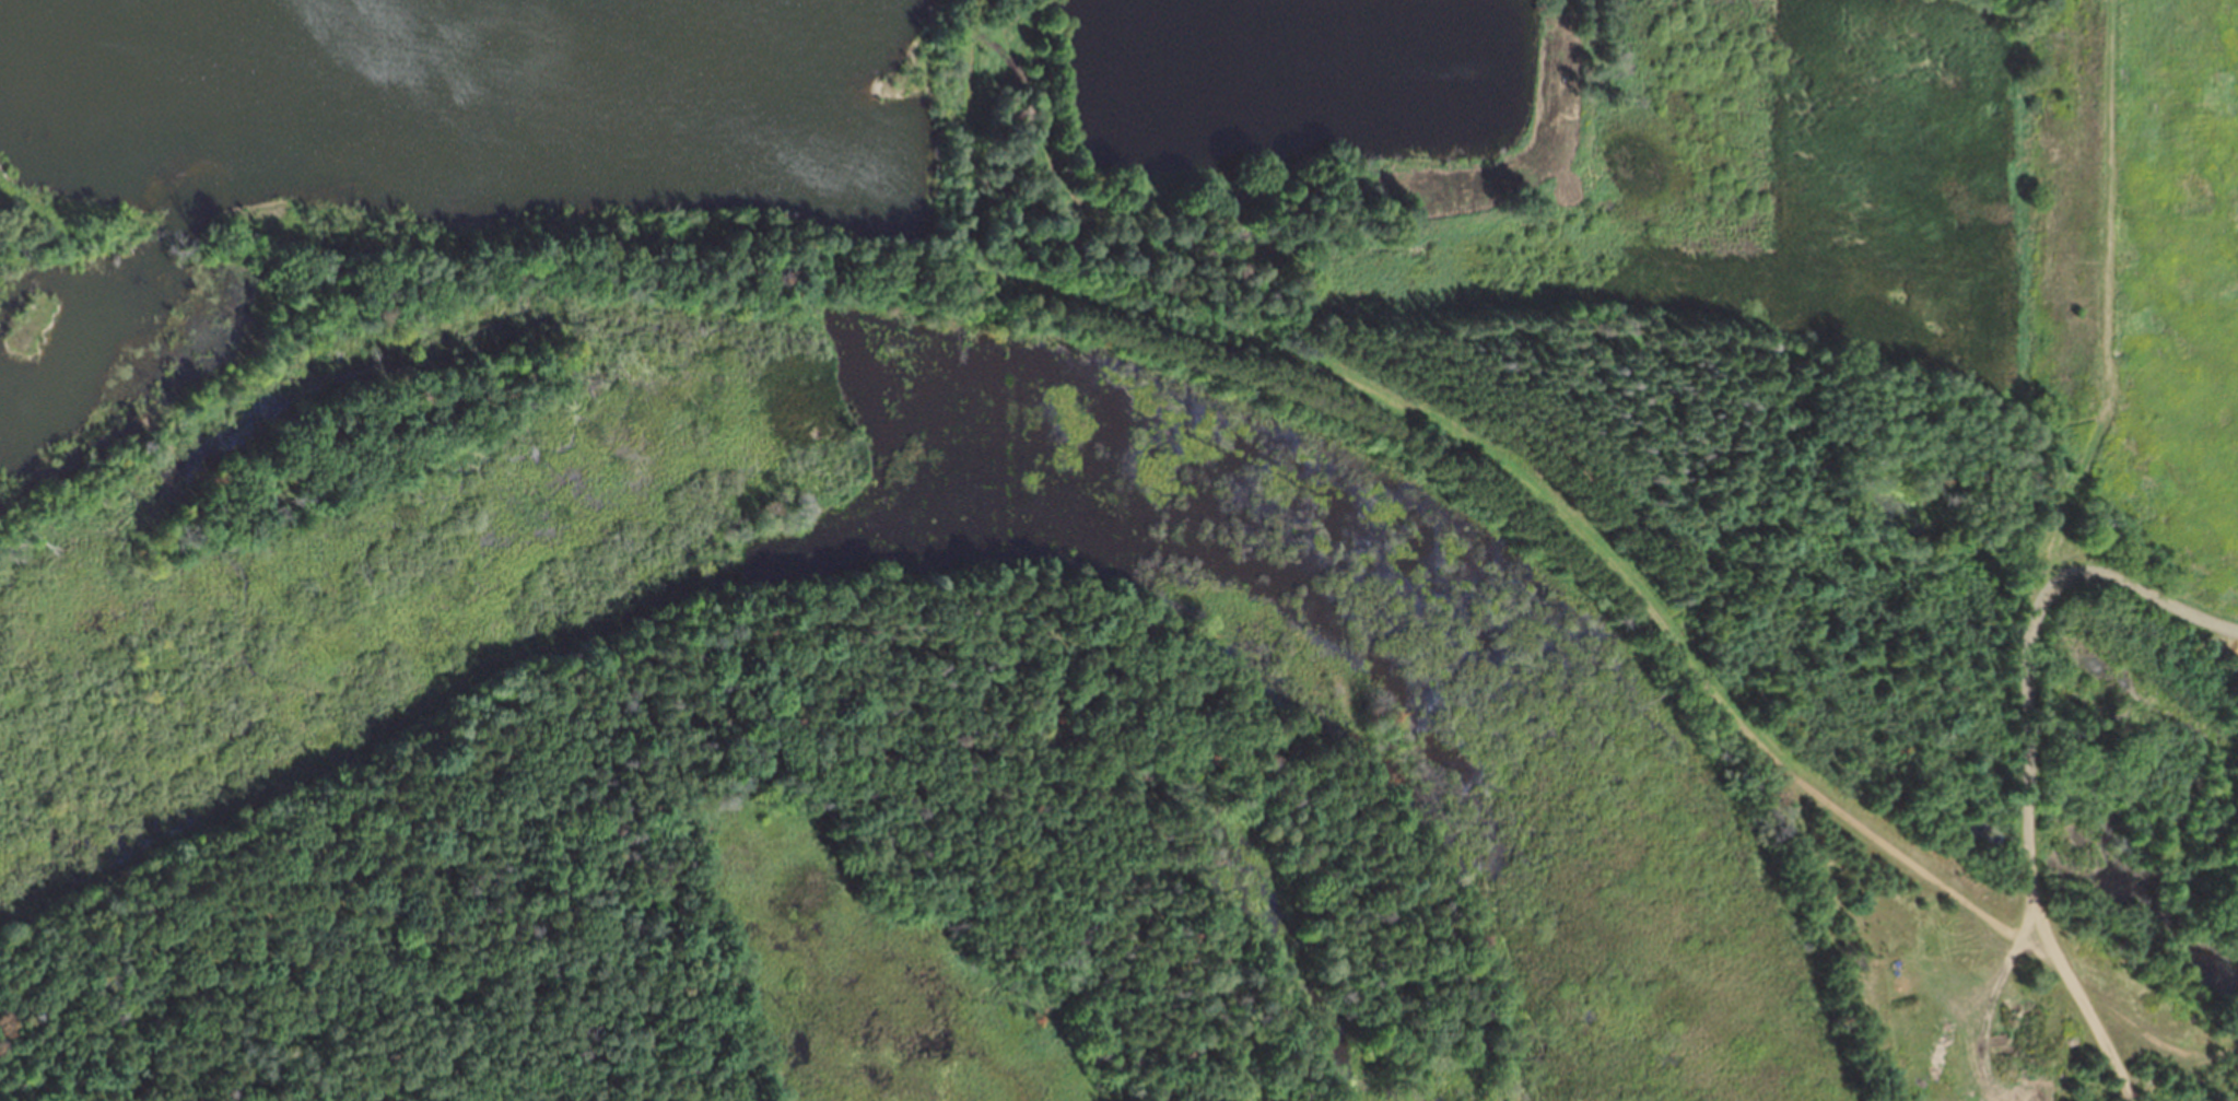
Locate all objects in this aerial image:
road: (971, 119)

